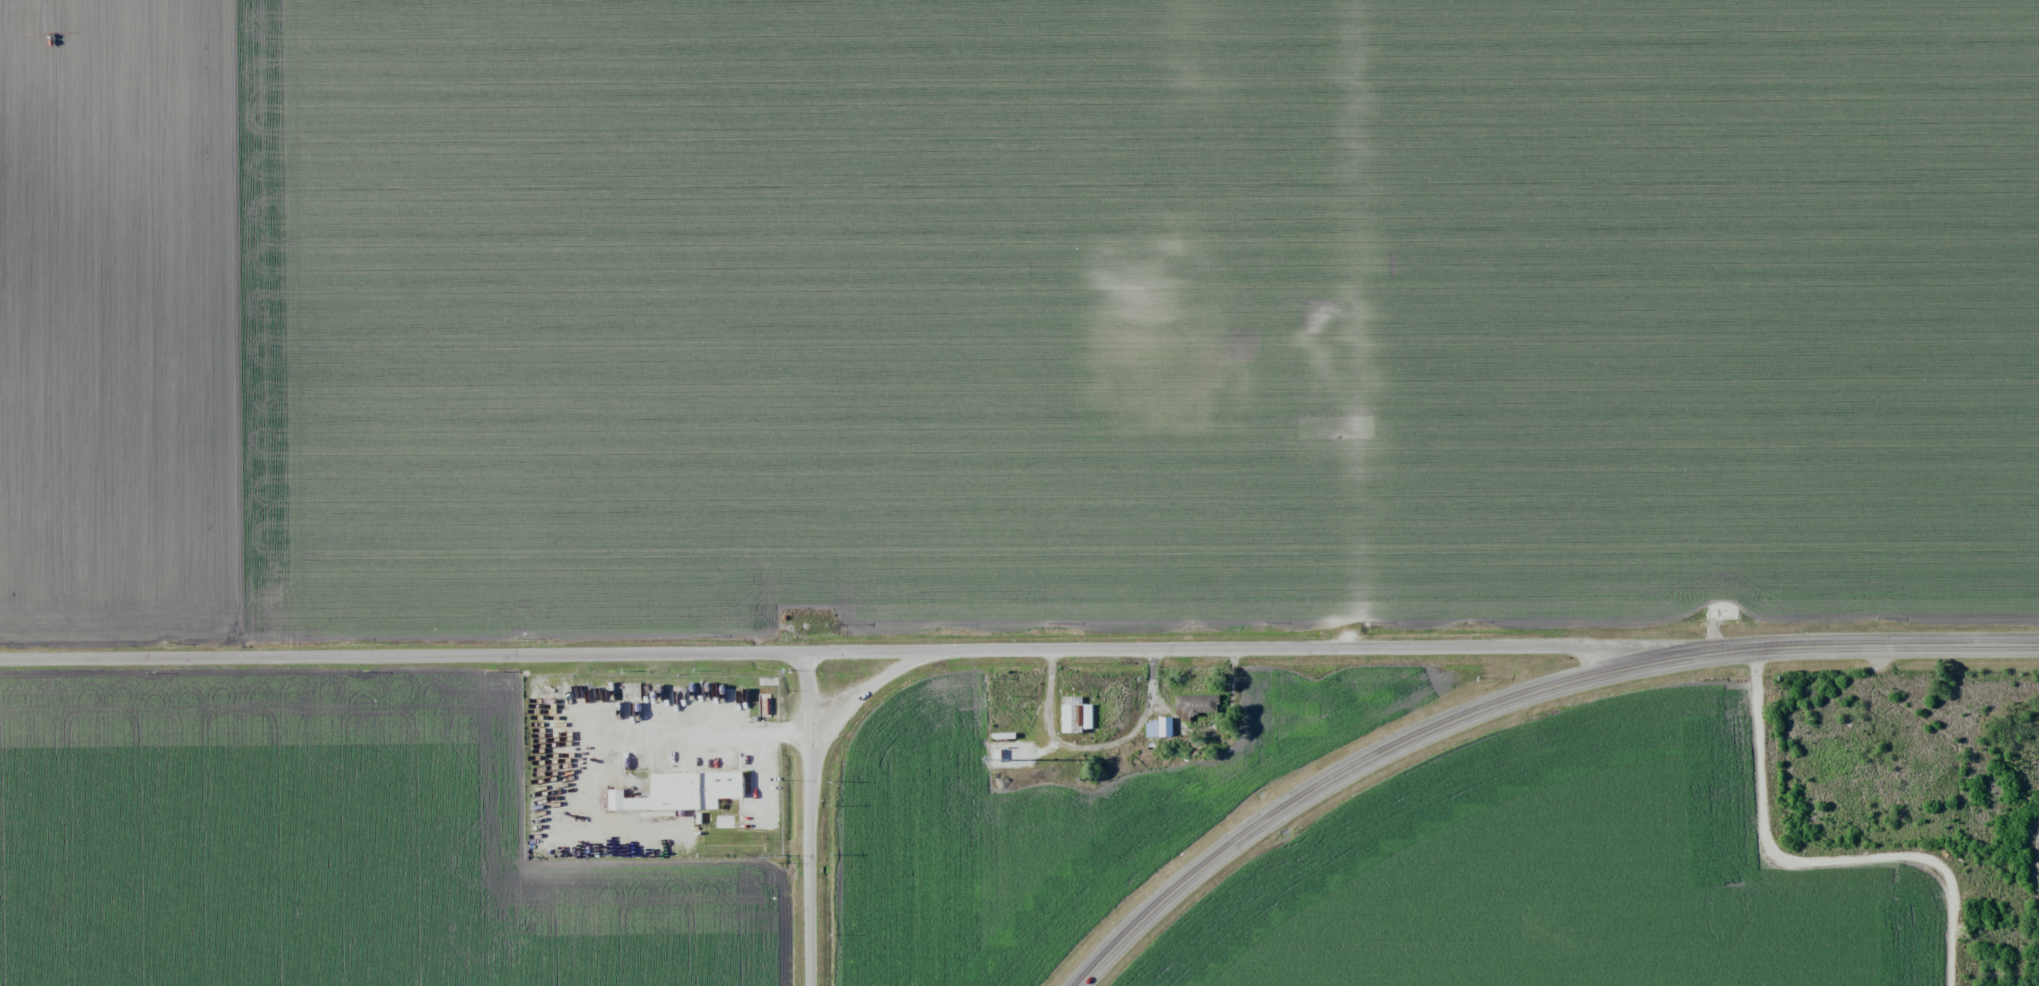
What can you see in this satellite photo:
road: (877, 648)
road: (1515, 697)
road: (858, 699)
building: (1195, 704)
building: (1074, 715)
building: (1158, 728)
road: (808, 818)
road: (1814, 857)

